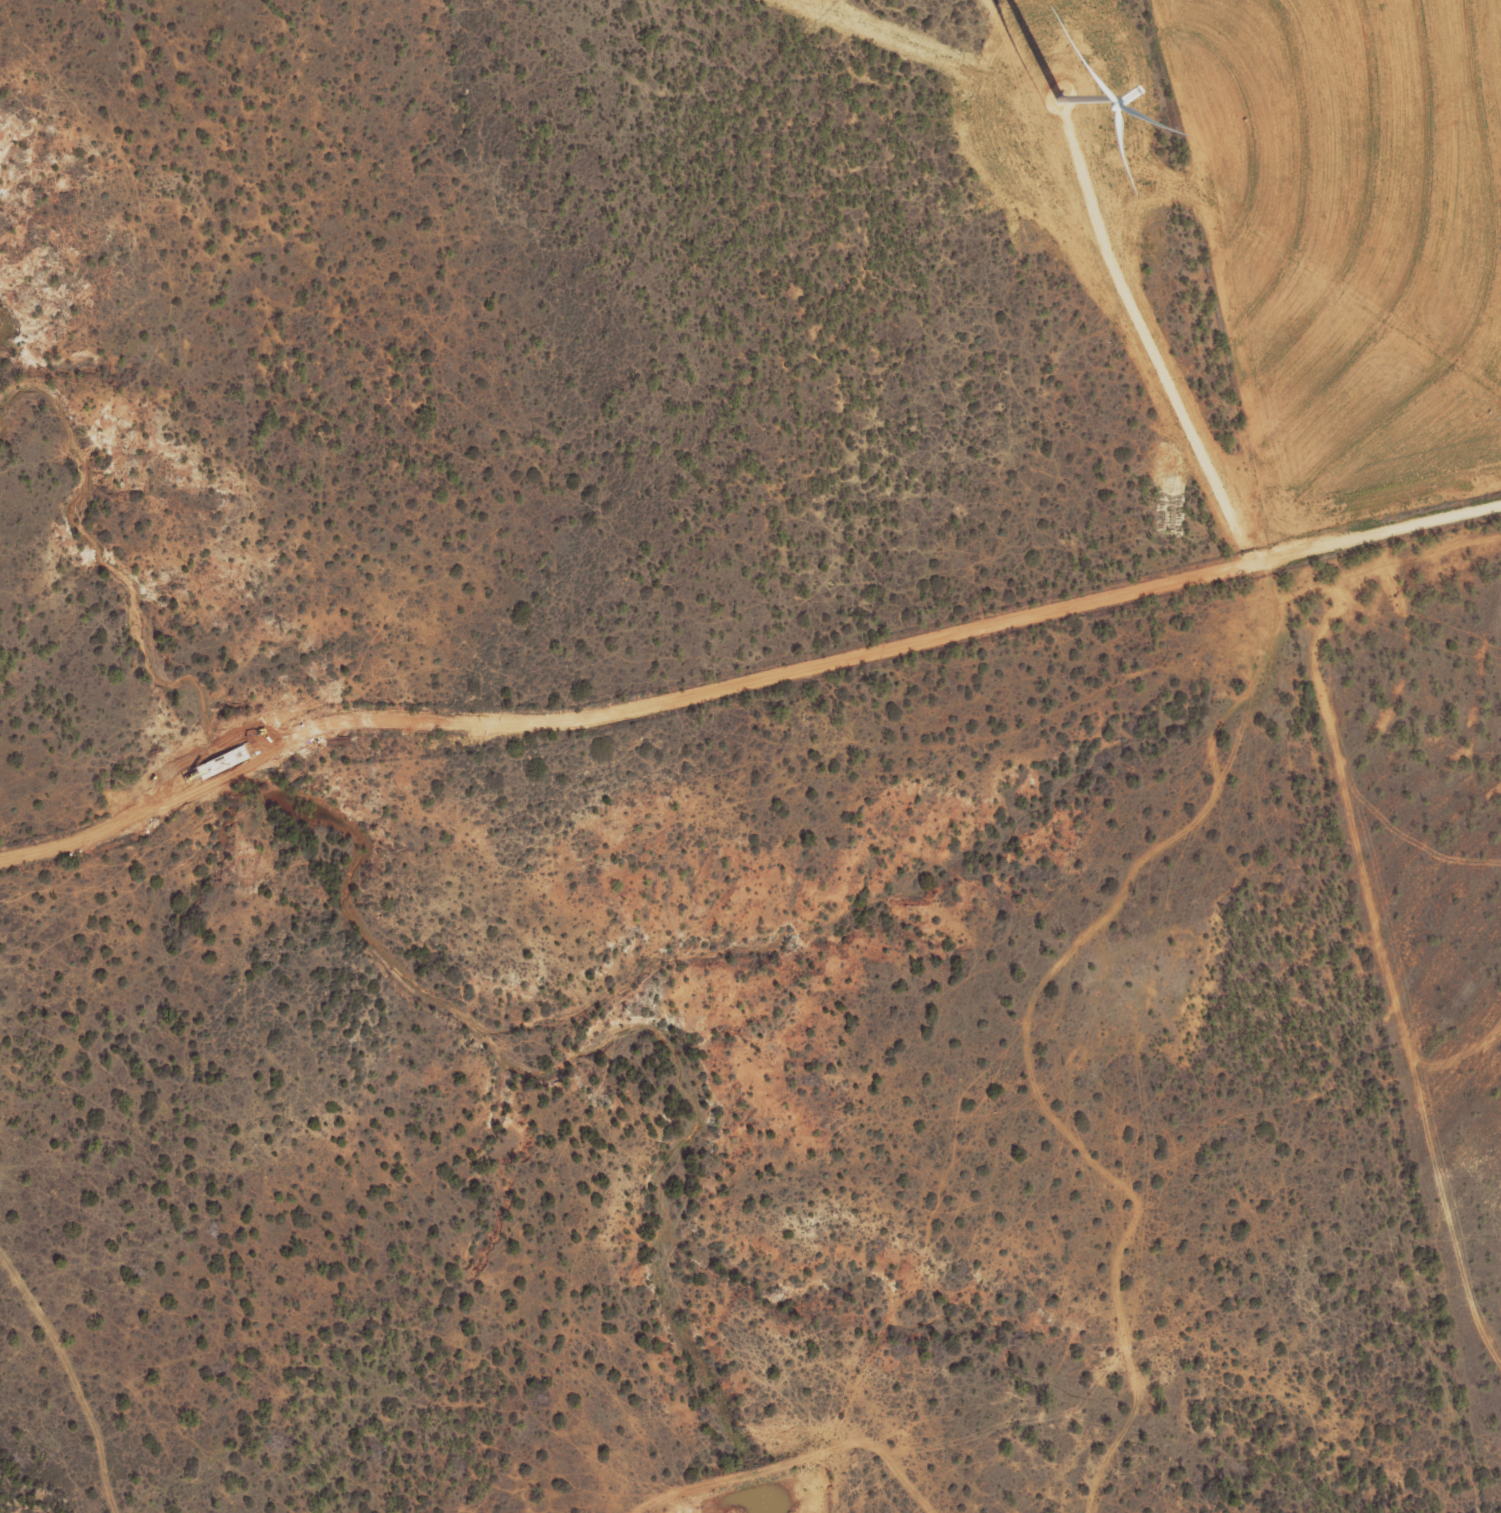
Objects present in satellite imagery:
wind turbine: (1060, 99)
road: (1146, 346)
road: (739, 678)
road: (1273, 1040)
road: (118, 1387)

